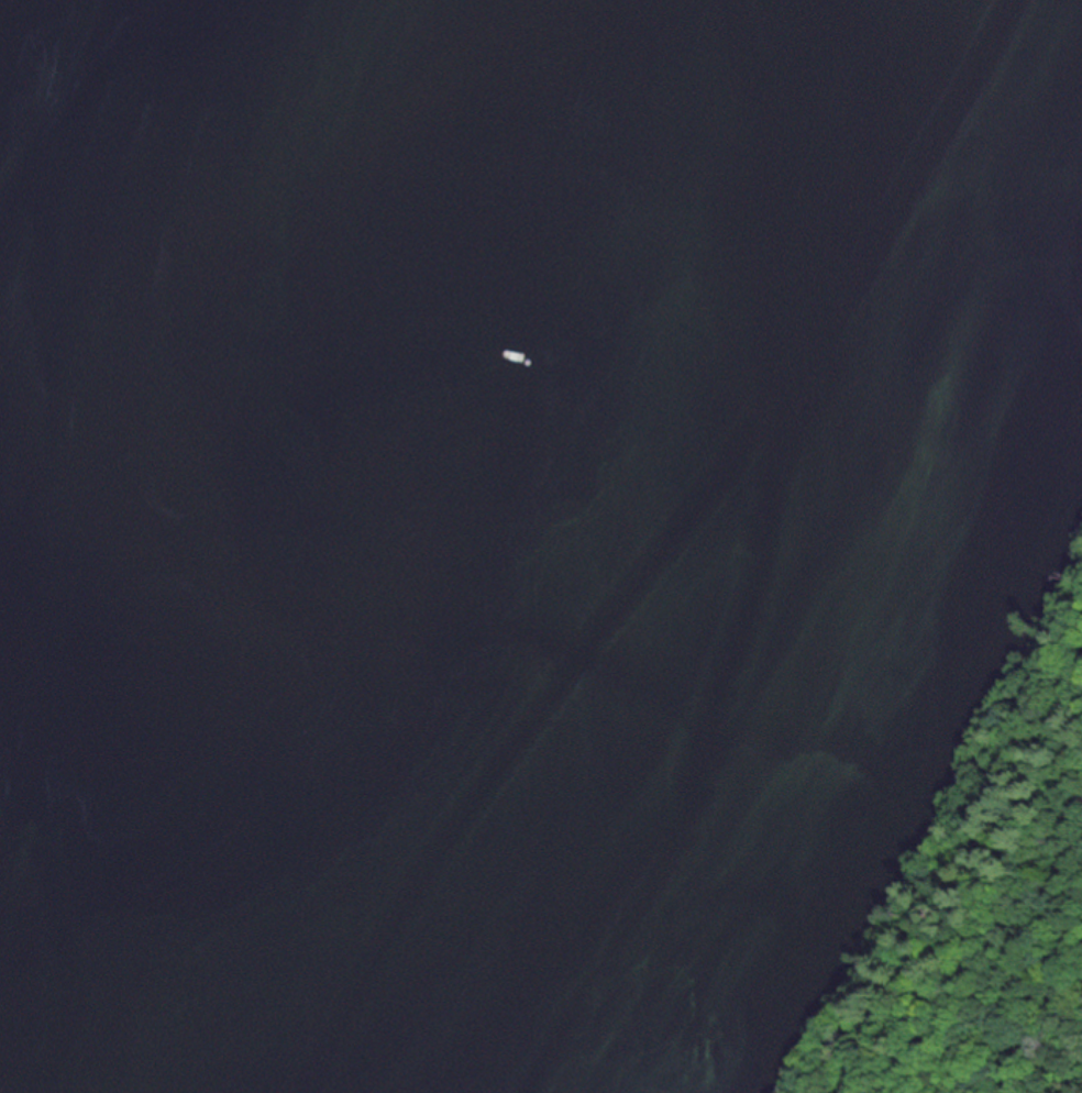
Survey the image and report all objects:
river: (426, 561)

